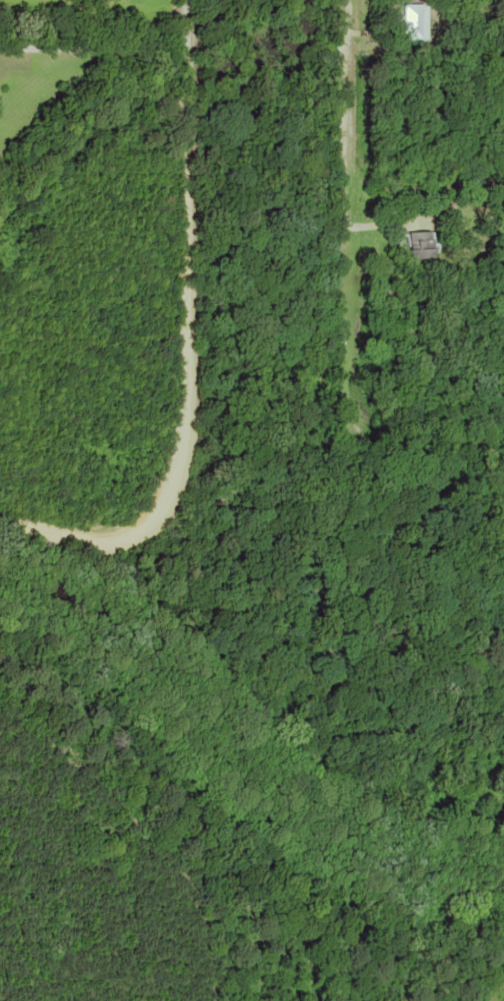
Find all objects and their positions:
road: (343, 135)
building: (404, 248)
road: (185, 346)

